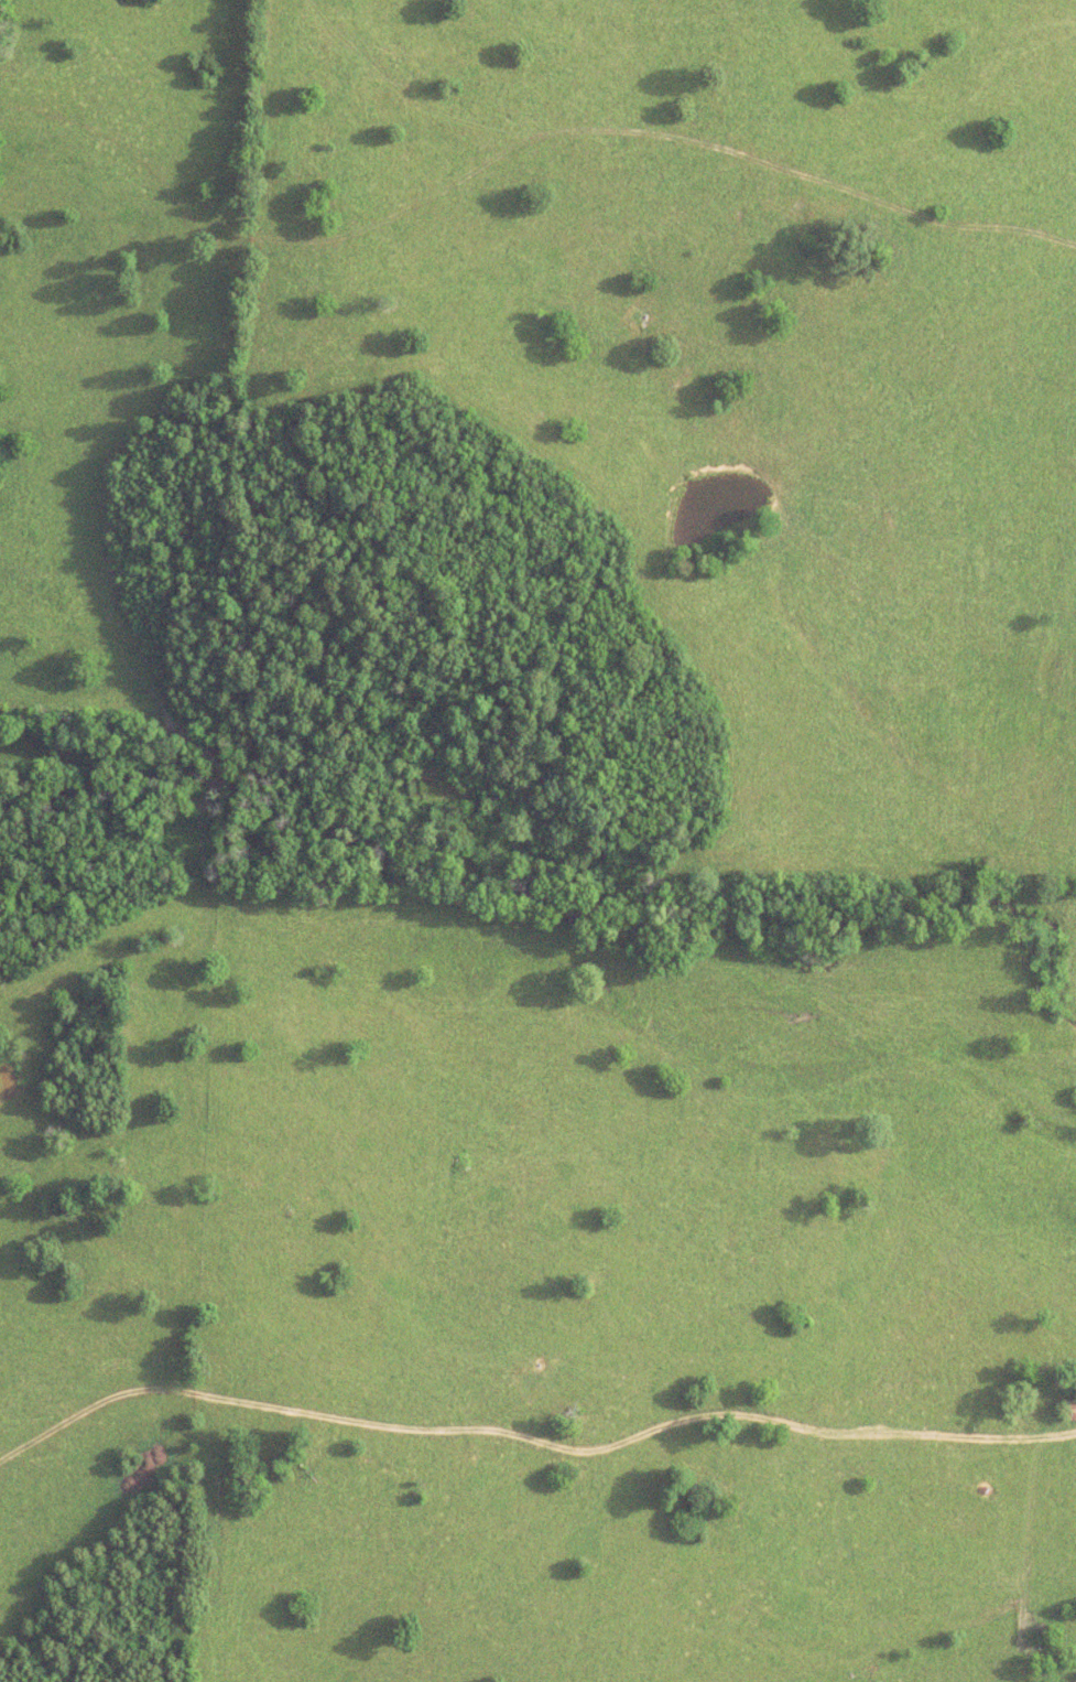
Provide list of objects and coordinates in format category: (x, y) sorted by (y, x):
building: (1066, 1416)

